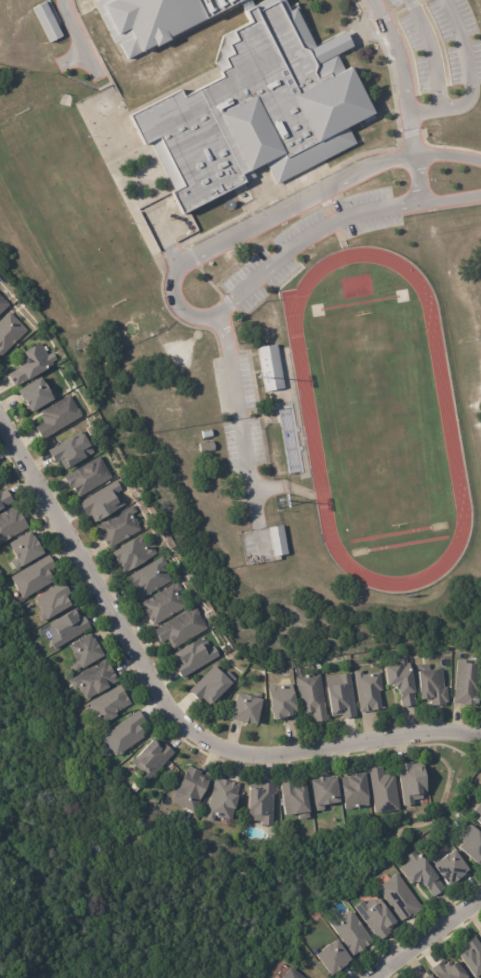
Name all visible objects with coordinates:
building: (46, 21)
road: (82, 39)
road: (425, 54)
road: (393, 56)
road: (471, 80)
building: (241, 94)
road: (414, 159)
road: (452, 200)
road: (287, 207)
park: (70, 208)
road: (309, 239)
road: (167, 243)
building: (2, 304)
building: (9, 332)
building: (31, 365)
building: (270, 368)
building: (35, 395)
building: (57, 417)
park: (378, 417)
road: (237, 432)
building: (206, 434)
building: (207, 448)
building: (71, 451)
building: (87, 477)
building: (5, 499)
building: (103, 502)
building: (11, 524)
building: (119, 527)
building: (278, 541)
building: (24, 551)
building: (133, 554)
building: (33, 578)
building: (149, 578)
building: (52, 602)
building: (164, 604)
building: (67, 629)
building: (181, 629)
building: (84, 653)
building: (194, 658)
building: (94, 680)
building: (402, 683)
building: (467, 684)
building: (212, 686)
building: (432, 688)
building: (368, 691)
building: (341, 696)
building: (311, 698)
building: (281, 703)
building: (108, 706)
road: (167, 709)
building: (246, 710)
building: (124, 735)
building: (151, 760)
building: (412, 783)
building: (190, 790)
building: (383, 792)
building: (355, 793)
building: (324, 794)
building: (222, 801)
building: (294, 801)
building: (262, 805)
building: (478, 811)
building: (479, 823)
building: (471, 846)
building: (449, 869)
building: (421, 876)
building: (399, 899)
building: (376, 920)
building: (479, 932)
building: (351, 934)
building: (480, 936)
road: (428, 942)
building: (331, 959)
building: (472, 959)
building: (447, 972)
building: (291, 975)
building: (427, 976)

